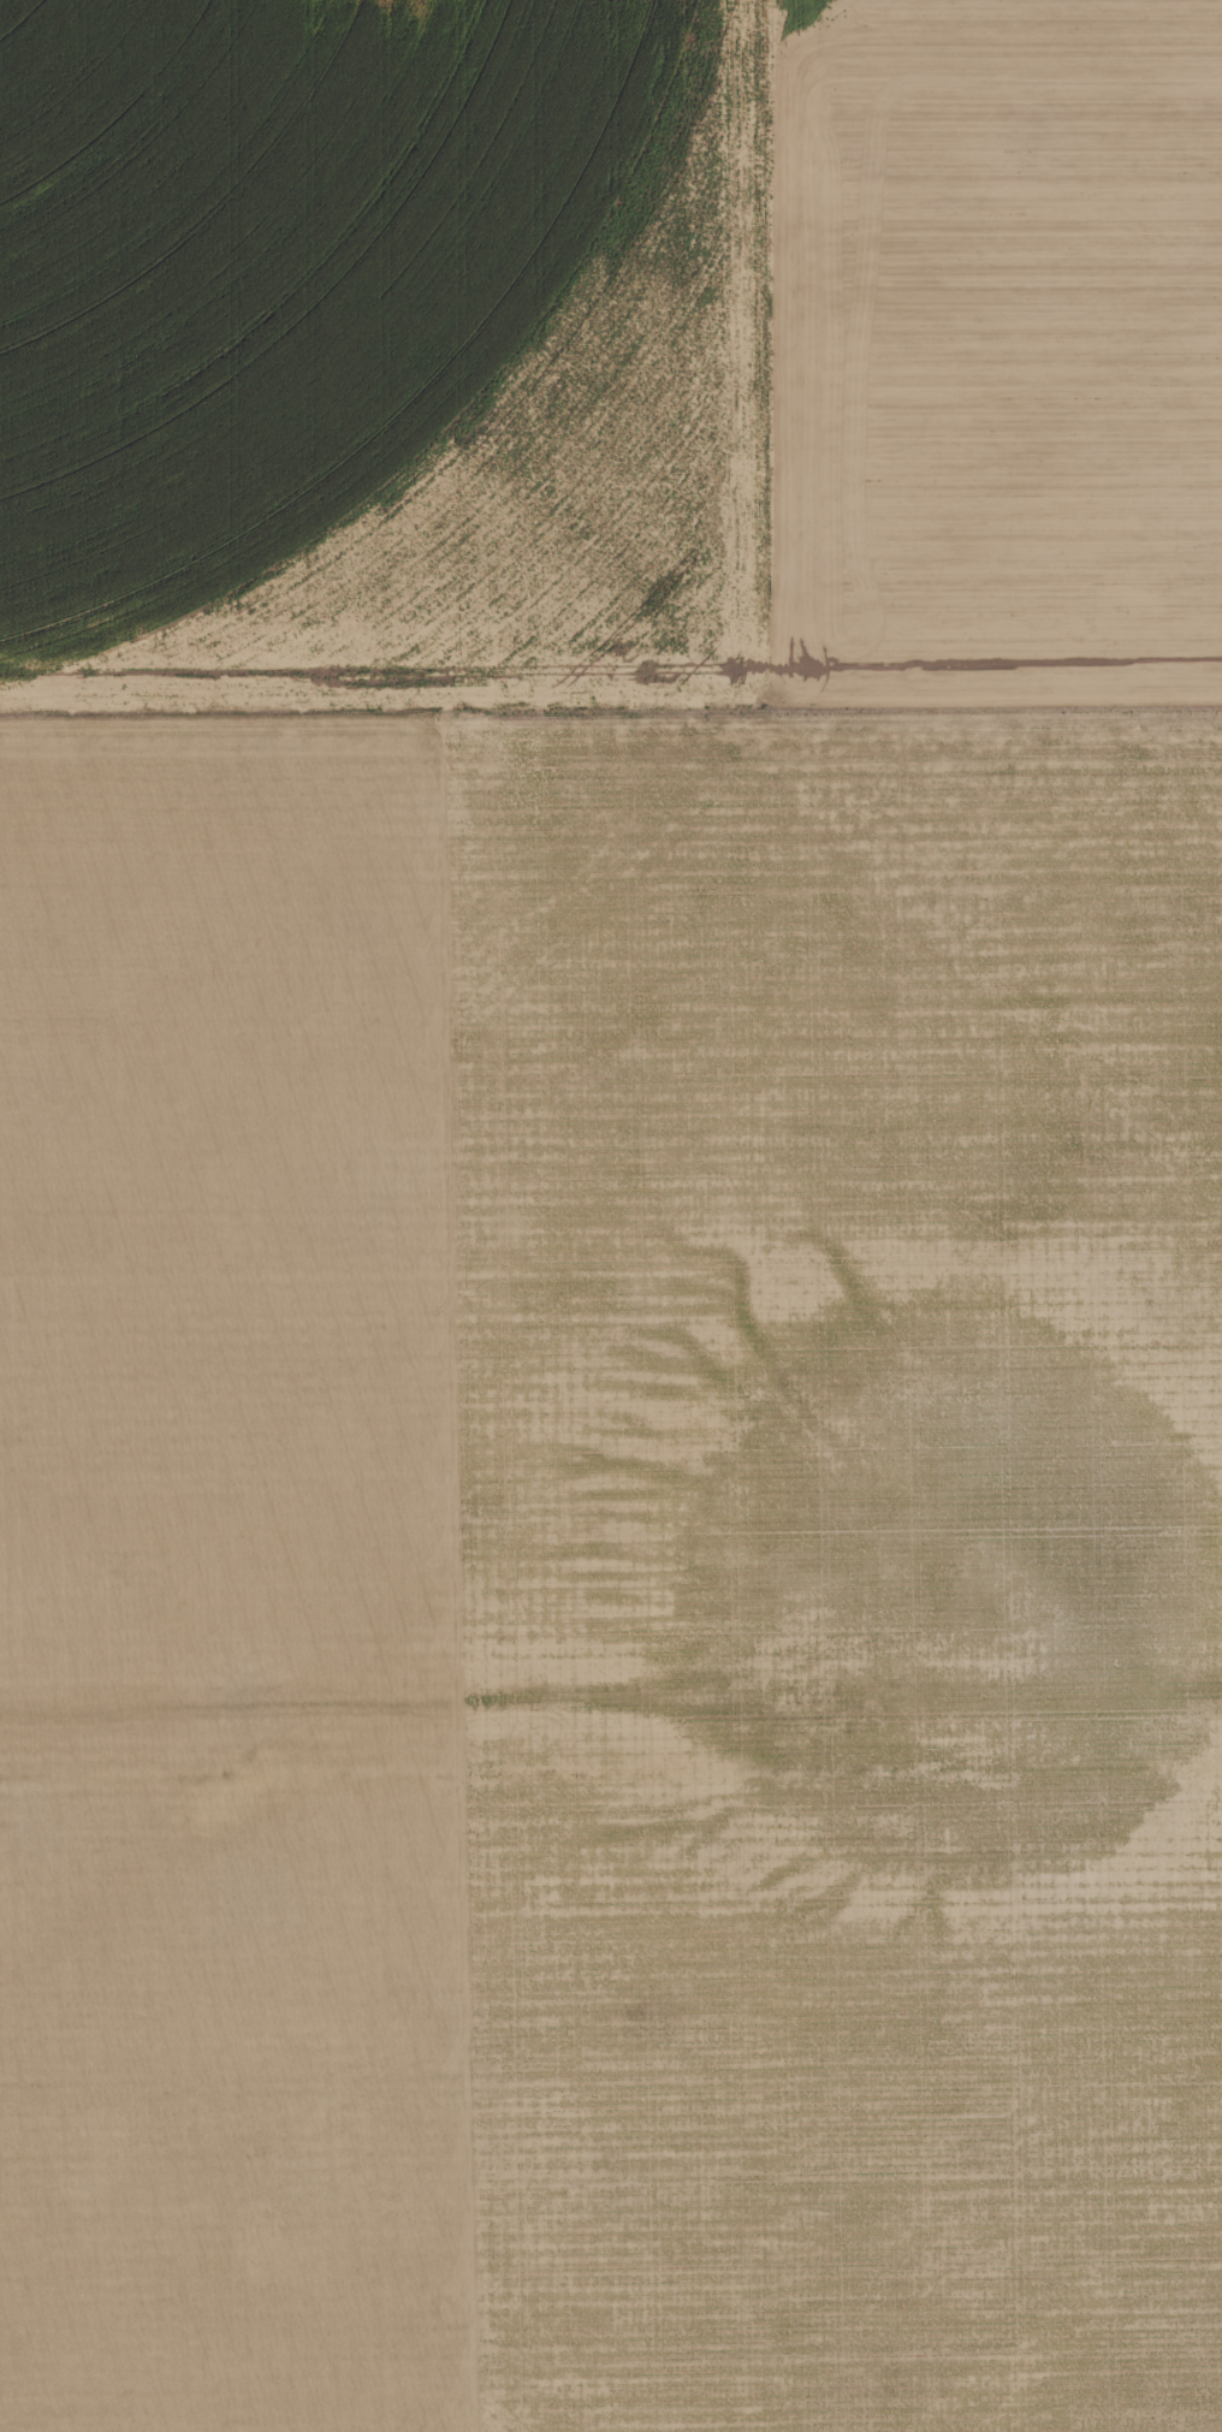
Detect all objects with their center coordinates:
road: (714, 689)

